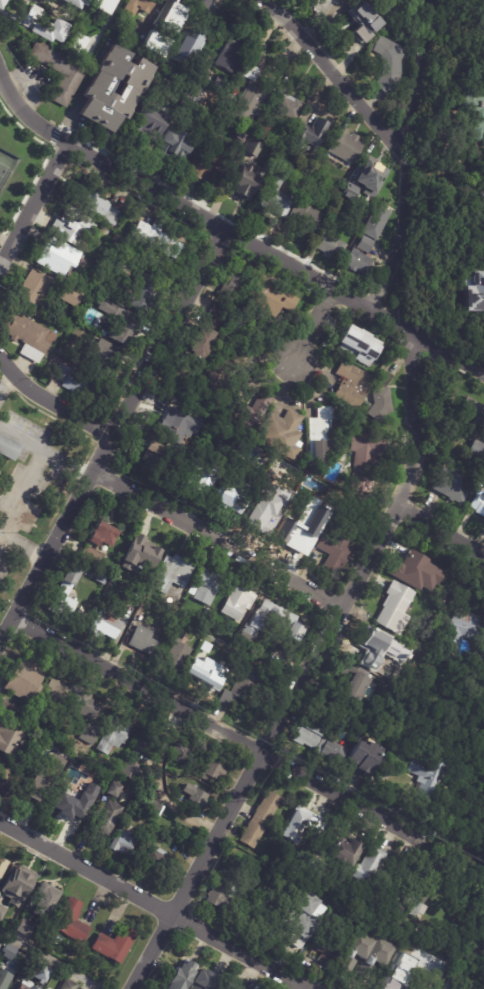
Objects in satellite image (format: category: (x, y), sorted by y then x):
building: (483, 0)
building: (189, 1)
building: (1, 2)
building: (71, 3)
building: (204, 3)
building: (98, 5)
building: (137, 6)
building: (214, 7)
building: (396, 8)
road: (152, 13)
building: (364, 22)
building: (28, 25)
building: (163, 30)
building: (95, 36)
building: (193, 37)
building: (482, 37)
building: (229, 57)
building: (184, 63)
building: (389, 64)
building: (57, 72)
building: (248, 72)
road: (338, 74)
building: (219, 85)
building: (125, 90)
building: (248, 106)
building: (289, 107)
building: (473, 108)
building: (147, 122)
building: (308, 134)
building: (172, 146)
building: (344, 146)
building: (252, 149)
road: (405, 158)
building: (207, 163)
park: (5, 166)
park: (3, 172)
building: (372, 174)
building: (245, 182)
building: (351, 186)
building: (274, 198)
road: (33, 201)
building: (89, 201)
building: (111, 217)
building: (303, 217)
building: (376, 222)
building: (73, 227)
road: (232, 233)
building: (156, 238)
building: (365, 244)
road: (4, 245)
building: (327, 246)
building: (56, 257)
building: (108, 258)
building: (356, 263)
building: (258, 271)
building: (230, 284)
building: (473, 289)
building: (31, 290)
building: (141, 292)
building: (67, 298)
building: (270, 298)
building: (215, 314)
road: (315, 324)
building: (128, 325)
building: (25, 336)
building: (197, 344)
building: (357, 344)
building: (100, 358)
building: (221, 371)
road: (4, 376)
building: (201, 379)
building: (351, 383)
building: (80, 386)
building: (380, 398)
road: (51, 401)
building: (365, 405)
building: (346, 410)
building: (473, 411)
building: (246, 416)
building: (177, 424)
building: (280, 432)
building: (319, 434)
road: (110, 435)
building: (7, 448)
building: (477, 449)
road: (45, 454)
building: (151, 459)
building: (365, 460)
building: (195, 479)
parking lot: (24, 484)
building: (451, 485)
road: (21, 496)
building: (241, 498)
building: (477, 503)
road: (441, 530)
building: (289, 531)
building: (101, 535)
road: (218, 539)
road: (23, 549)
building: (332, 550)
building: (91, 556)
building: (140, 558)
building: (425, 570)
building: (406, 571)
building: (170, 573)
building: (99, 578)
building: (205, 586)
building: (190, 590)
building: (63, 594)
building: (237, 603)
building: (393, 608)
building: (133, 621)
building: (105, 624)
building: (270, 624)
building: (462, 631)
building: (142, 641)
building: (369, 648)
building: (175, 650)
building: (201, 670)
road: (306, 671)
building: (23, 682)
building: (350, 683)
building: (243, 689)
building: (56, 695)
building: (83, 705)
building: (8, 710)
road: (214, 727)
building: (307, 732)
building: (44, 734)
building: (89, 734)
building: (112, 735)
building: (8, 739)
building: (329, 750)
building: (180, 751)
building: (137, 755)
building: (361, 757)
building: (385, 763)
building: (74, 764)
building: (213, 769)
building: (41, 777)
building: (425, 777)
building: (150, 778)
building: (4, 788)
building: (113, 788)
building: (195, 798)
building: (150, 807)
building: (71, 811)
building: (107, 817)
building: (257, 819)
building: (298, 825)
building: (122, 841)
building: (341, 852)
building: (181, 857)
building: (156, 862)
building: (2, 866)
building: (365, 866)
building: (226, 871)
building: (330, 884)
building: (16, 886)
building: (212, 894)
building: (409, 895)
building: (43, 901)
road: (154, 903)
building: (1, 912)
building: (299, 919)
building: (70, 922)
building: (20, 927)
building: (443, 940)
building: (112, 946)
building: (323, 949)
building: (352, 953)
building: (375, 954)
building: (83, 956)
building: (12, 958)
road: (54, 958)
building: (40, 973)
building: (179, 976)
building: (393, 979)
building: (3, 980)
building: (204, 981)
building: (25, 984)
building: (450, 984)
building: (67, 985)
building: (230, 987)
building: (79, 988)

